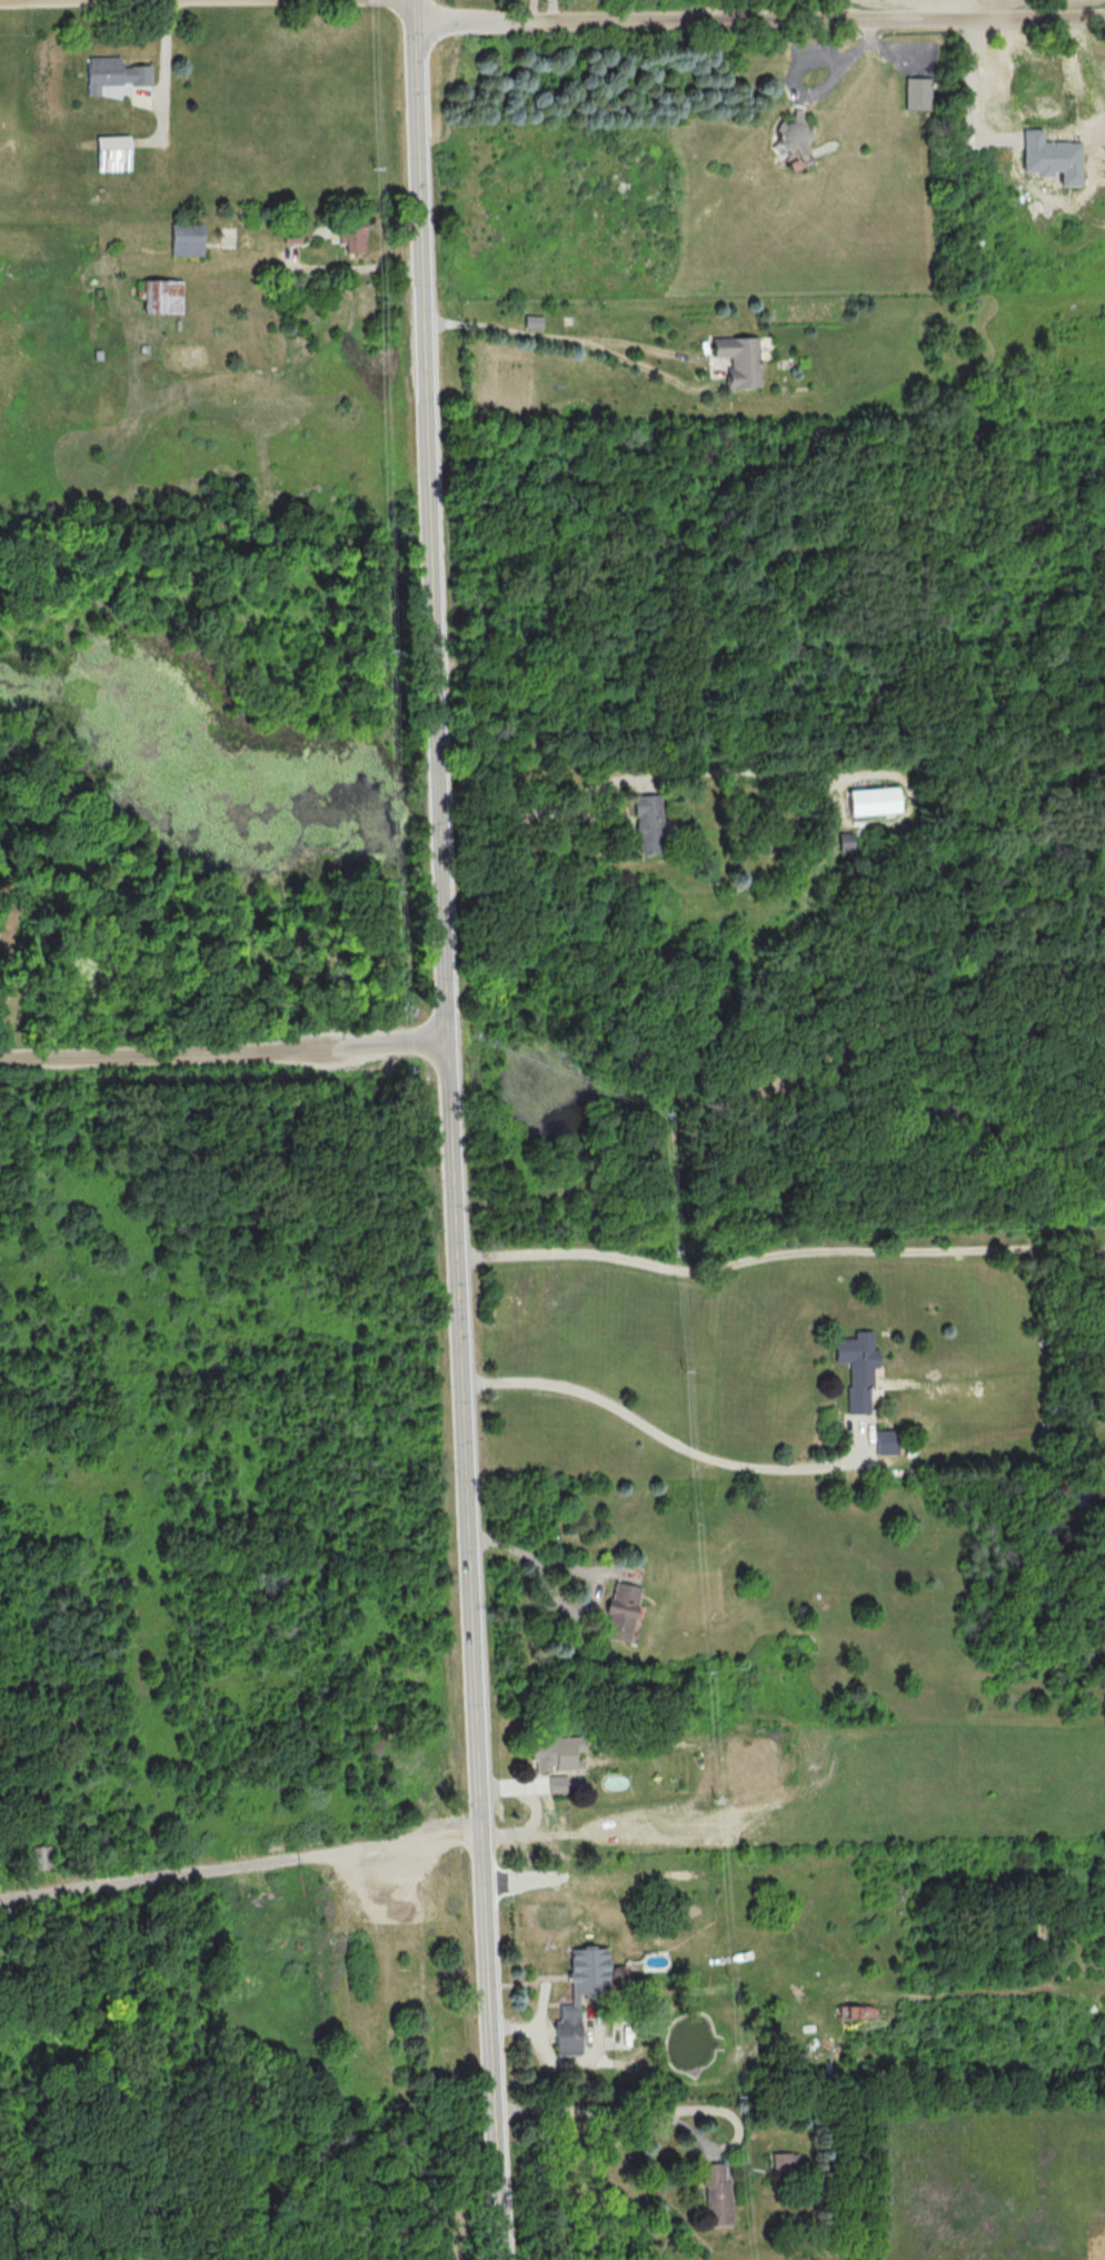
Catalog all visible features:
road: (30, 0)
crop: (977, 3)
road: (530, 12)
road: (552, 12)
road: (759, 21)
building: (113, 72)
building: (917, 92)
building: (795, 138)
building: (113, 152)
building: (1052, 157)
building: (292, 234)
building: (352, 236)
building: (187, 239)
road: (330, 267)
building: (166, 296)
road: (563, 340)
building: (739, 359)
building: (873, 800)
road: (560, 812)
building: (648, 824)
building: (845, 841)
road: (223, 1054)
road: (450, 1130)
road: (778, 1253)
building: (858, 1368)
road: (658, 1433)
building: (886, 1440)
road: (559, 1598)
building: (621, 1612)
building: (555, 1753)
building: (558, 1783)
road: (239, 1867)
building: (580, 1994)
building: (857, 2011)
road: (605, 2109)
building: (785, 2160)
building: (716, 2195)

